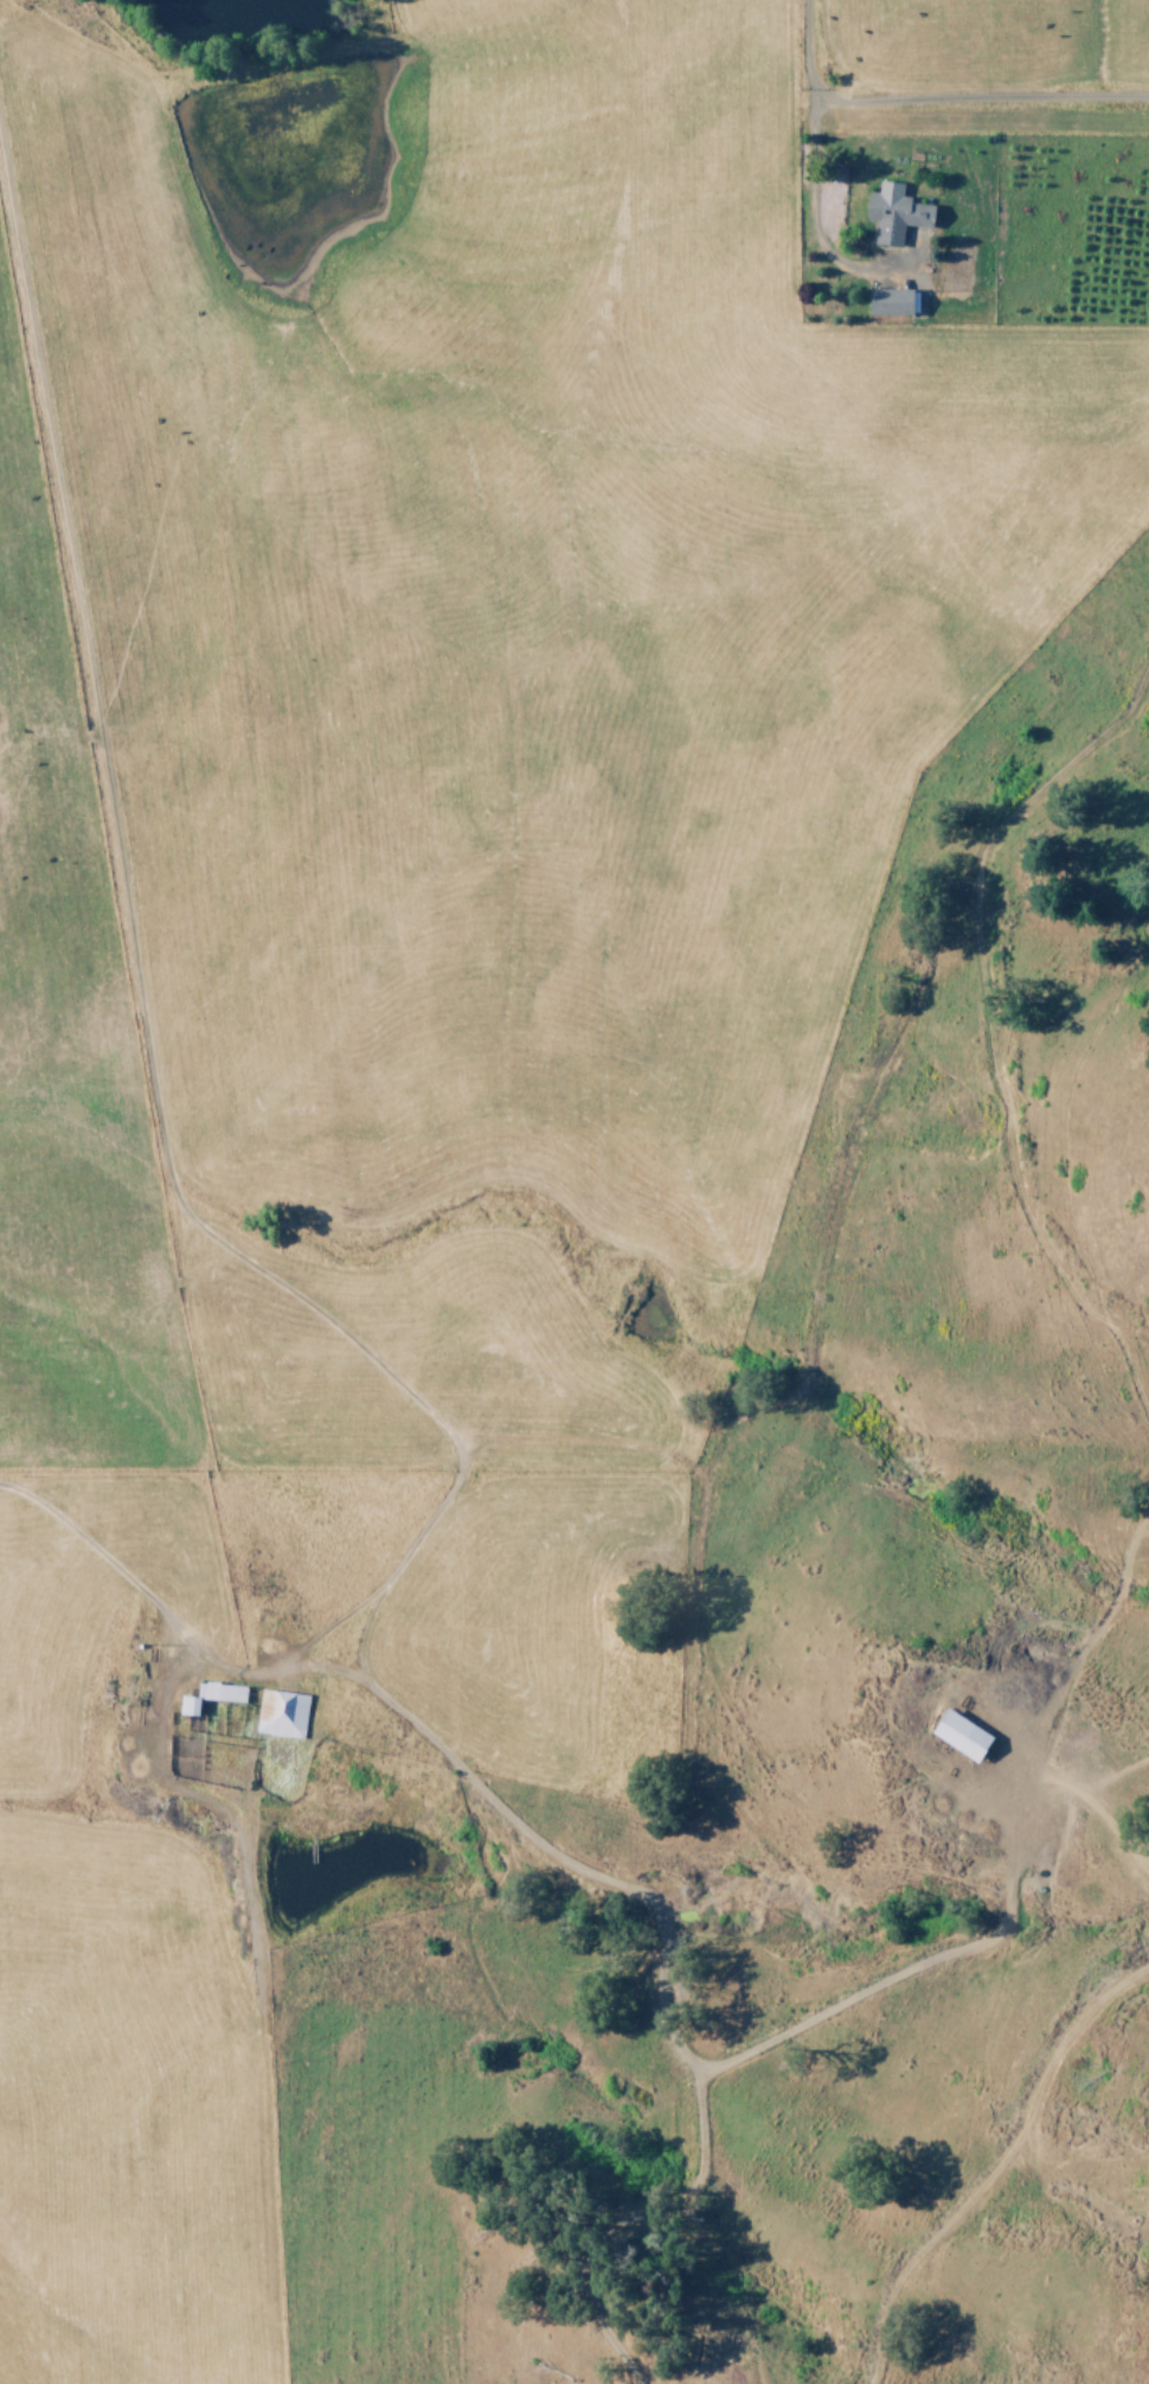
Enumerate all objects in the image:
road: (923, 104)
road: (804, 210)
building: (896, 213)
building: (892, 301)
building: (210, 1696)
building: (280, 1713)
building: (962, 1735)

